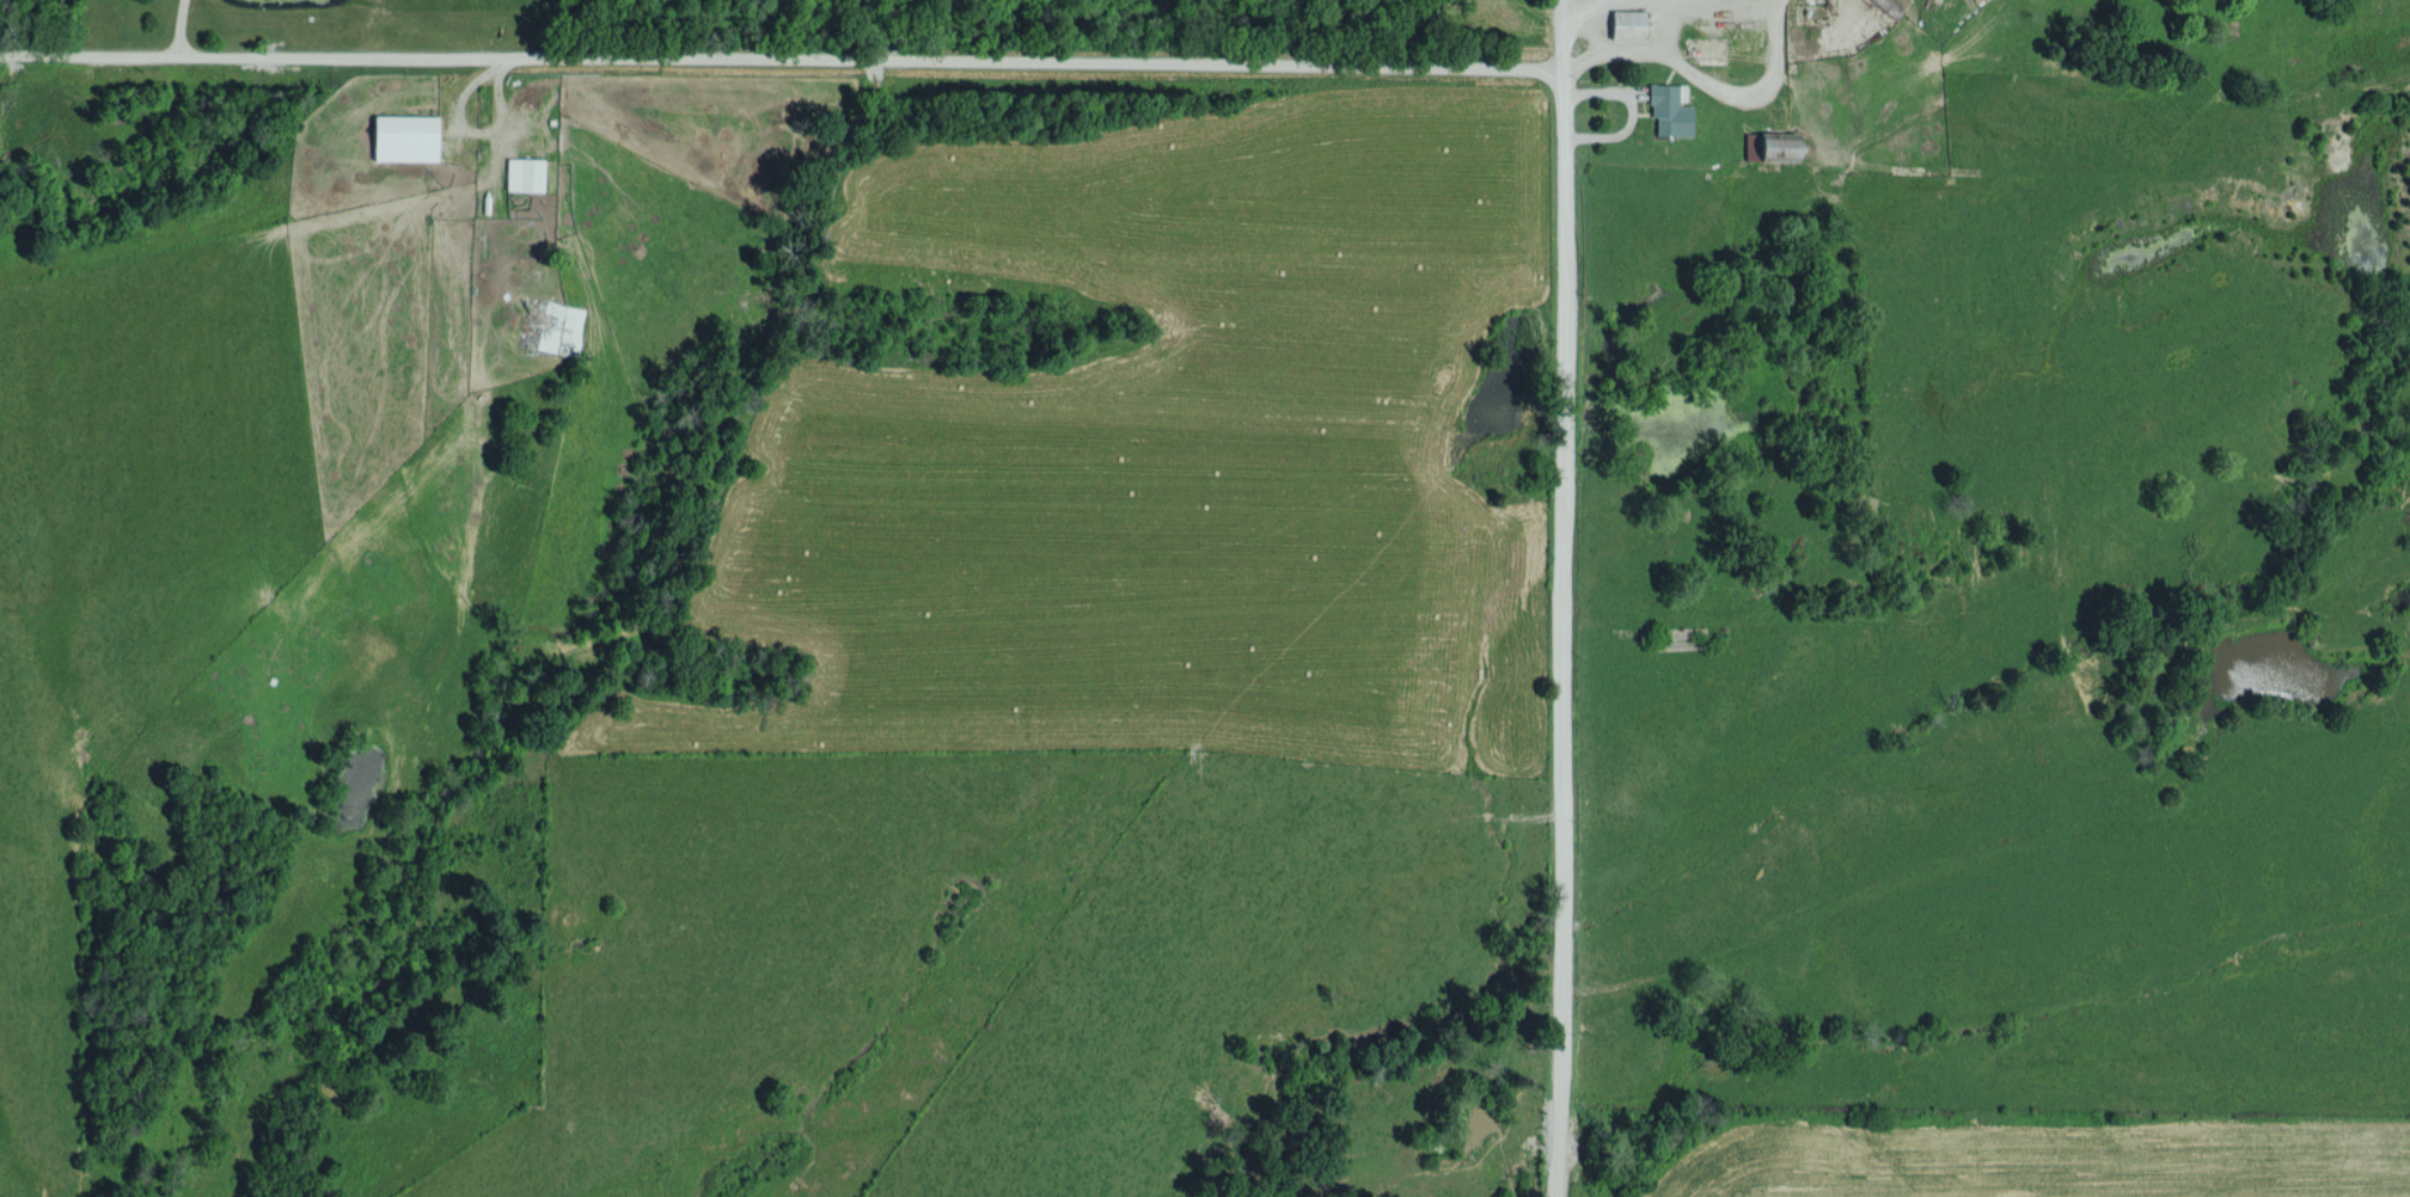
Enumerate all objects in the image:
building: (1625, 24)
building: (1707, 50)
road: (784, 62)
building: (1668, 110)
building: (402, 137)
building: (1773, 146)
building: (522, 173)
road: (1562, 597)

